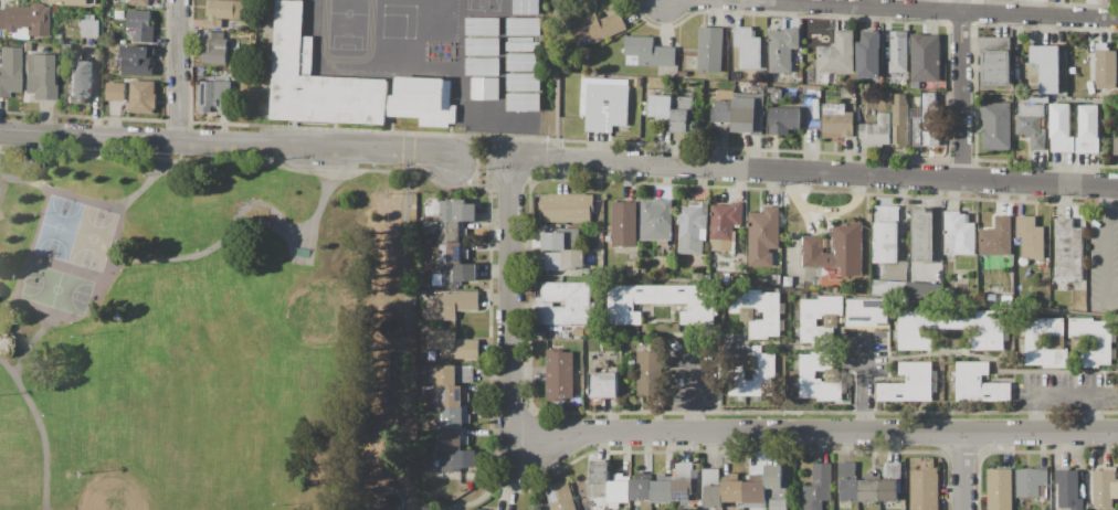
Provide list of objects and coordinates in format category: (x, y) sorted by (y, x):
building: (299, 0)
building: (72, 2)
building: (105, 2)
building: (137, 2)
road: (740, 2)
building: (527, 7)
building: (225, 11)
building: (109, 13)
road: (954, 13)
building: (24, 19)
building: (141, 25)
building: (91, 26)
building: (598, 26)
building: (27, 47)
building: (748, 47)
building: (64, 49)
building: (214, 49)
building: (710, 50)
building: (784, 50)
building: (650, 51)
building: (899, 52)
building: (837, 54)
building: (869, 56)
building: (926, 57)
building: (137, 61)
building: (995, 61)
building: (1106, 66)
building: (1047, 67)
building: (9, 71)
road: (179, 71)
building: (39, 77)
building: (317, 79)
road: (561, 79)
building: (80, 81)
building: (916, 86)
building: (1017, 86)
building: (485, 88)
road: (961, 89)
building: (115, 92)
building: (213, 95)
building: (776, 96)
building: (143, 97)
building: (1040, 99)
building: (422, 102)
building: (523, 103)
building: (604, 104)
building: (661, 106)
building: (682, 114)
building: (748, 114)
building: (723, 115)
building: (783, 120)
building: (900, 120)
building: (837, 121)
building: (926, 123)
building: (1032, 124)
building: (996, 126)
building: (1062, 128)
building: (1089, 129)
building: (876, 131)
road: (229, 142)
building: (1117, 146)
road: (485, 162)
road: (816, 171)
road: (156, 180)
building: (568, 208)
building: (453, 211)
building: (656, 221)
building: (624, 224)
building: (725, 225)
building: (693, 227)
building: (447, 231)
building: (959, 234)
building: (887, 235)
building: (924, 235)
building: (763, 236)
building: (996, 237)
building: (1030, 237)
building: (562, 240)
building: (836, 249)
building: (1068, 251)
building: (453, 253)
road: (1103, 255)
road: (183, 256)
park: (71, 257)
building: (566, 259)
building: (1043, 265)
building: (428, 267)
building: (633, 267)
building: (643, 270)
building: (455, 274)
building: (697, 276)
building: (777, 279)
building: (788, 281)
building: (889, 288)
building: (925, 291)
building: (949, 291)
building: (665, 302)
building: (452, 305)
building: (581, 305)
building: (867, 311)
building: (747, 317)
road: (76, 322)
building: (809, 322)
building: (952, 328)
road: (411, 330)
park: (201, 333)
building: (1094, 341)
building: (1033, 342)
building: (451, 346)
building: (918, 371)
building: (971, 371)
building: (651, 373)
building: (808, 374)
building: (453, 375)
building: (559, 375)
building: (755, 375)
road: (862, 383)
building: (605, 384)
road: (689, 386)
building: (906, 391)
building: (983, 391)
road: (1062, 393)
building: (453, 396)
park: (212, 400)
building: (455, 417)
road: (40, 427)
park: (168, 429)
road: (681, 433)
building: (452, 439)
park: (8, 459)
building: (456, 459)
park: (17, 466)
road: (962, 471)
road: (503, 480)
building: (599, 480)
building: (683, 481)
building: (848, 481)
building: (890, 481)
building: (1031, 481)
building: (776, 487)
building: (819, 487)
building: (713, 488)
building: (734, 488)
building: (869, 488)
building: (1068, 488)
building: (1104, 488)
building: (662, 489)
building: (924, 489)
building: (1000, 489)
building: (620, 490)
building: (640, 490)
building: (756, 490)
building: (560, 496)
building: (479, 509)
building: (485, 509)

